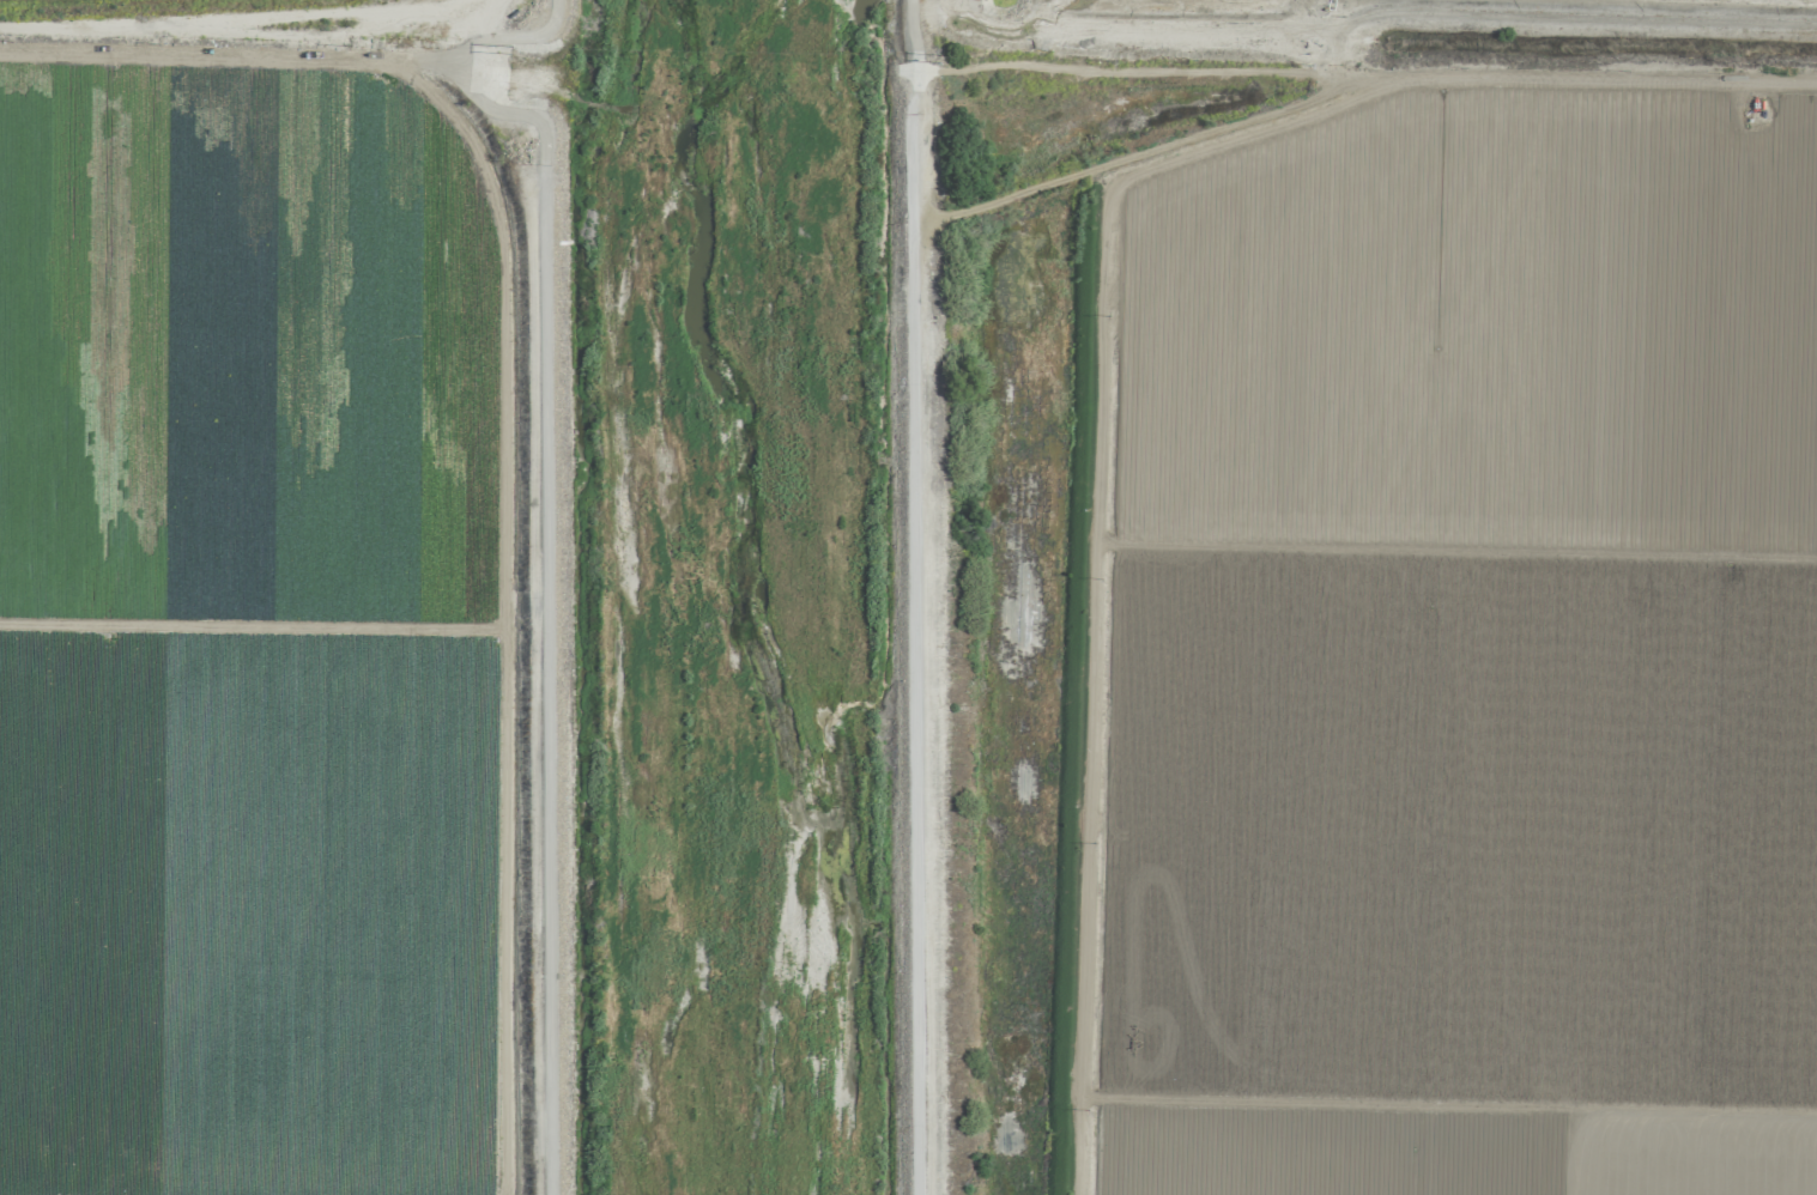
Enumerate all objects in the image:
crop: (1422, 16)
road: (256, 54)
road: (1361, 74)
road: (908, 596)
crop: (273, 597)
river: (707, 597)
crop: (1386, 641)

